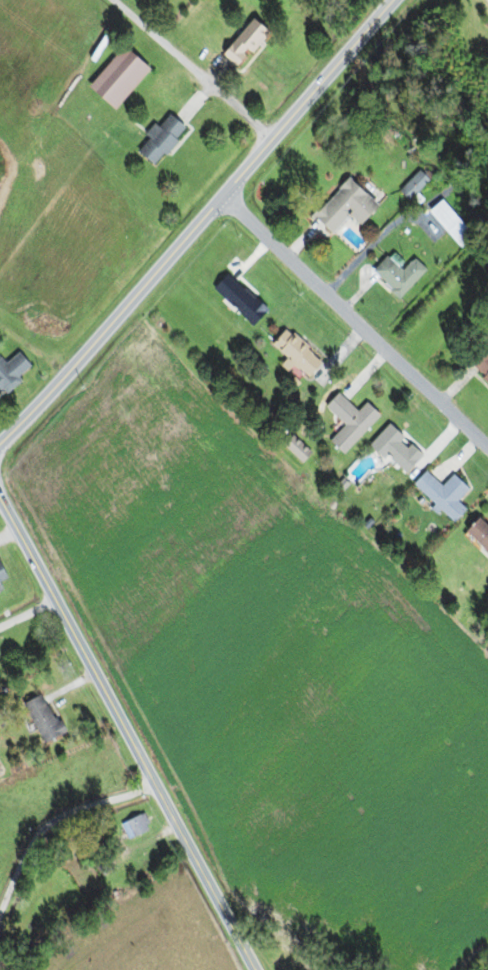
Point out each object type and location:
building: (241, 43)
road: (193, 68)
building: (114, 78)
building: (157, 139)
building: (408, 187)
building: (339, 207)
road: (198, 221)
building: (446, 223)
building: (393, 274)
building: (236, 299)
road: (355, 319)
building: (291, 354)
building: (478, 366)
building: (10, 370)
building: (346, 422)
building: (294, 449)
building: (392, 450)
building: (438, 494)
building: (476, 534)
building: (0, 576)
building: (38, 717)
road: (123, 733)
building: (132, 825)

